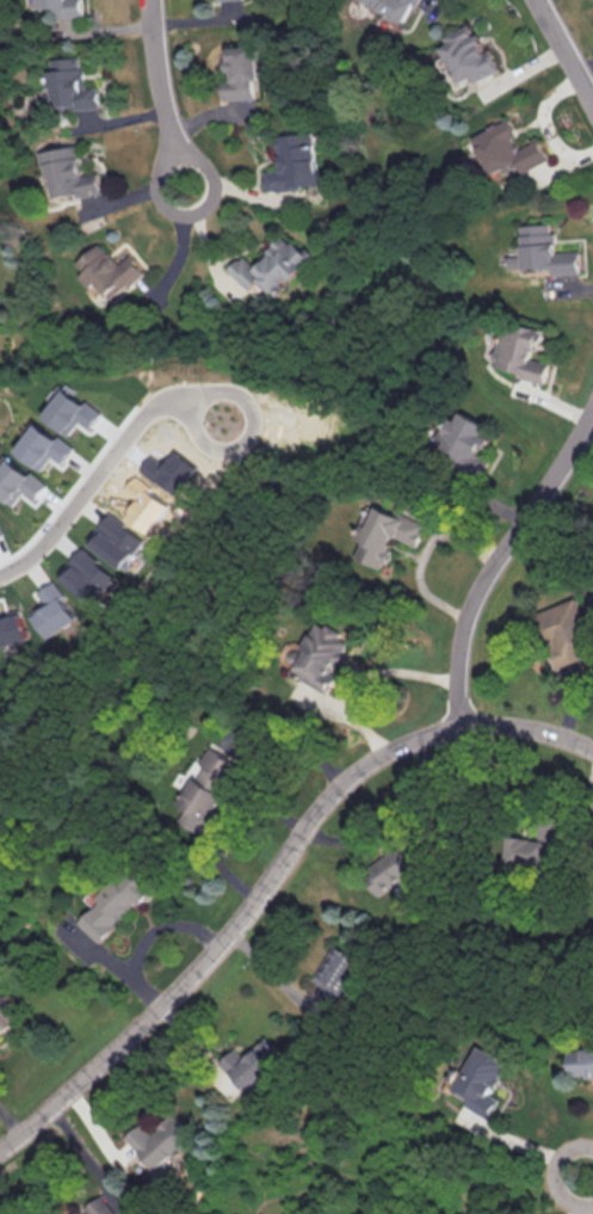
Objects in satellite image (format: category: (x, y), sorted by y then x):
building: (67, 6)
building: (395, 6)
road: (563, 51)
building: (469, 54)
building: (243, 73)
road: (159, 76)
building: (74, 84)
building: (508, 148)
building: (296, 162)
building: (72, 173)
road: (197, 214)
building: (545, 249)
building: (272, 264)
building: (109, 270)
building: (523, 350)
building: (73, 411)
building: (467, 439)
building: (45, 445)
road: (104, 463)
building: (173, 470)
building: (19, 481)
building: (146, 503)
building: (2, 526)
building: (117, 540)
road: (496, 560)
building: (88, 574)
building: (54, 610)
building: (12, 627)
building: (568, 630)
building: (317, 654)
road: (363, 672)
road: (288, 748)
building: (210, 785)
road: (390, 820)
building: (530, 848)
building: (393, 868)
road: (271, 873)
building: (119, 902)
building: (340, 975)
building: (10, 1011)
building: (254, 1062)
building: (582, 1062)
building: (486, 1079)
building: (160, 1139)
road: (557, 1173)
building: (98, 1207)
road: (577, 1208)

